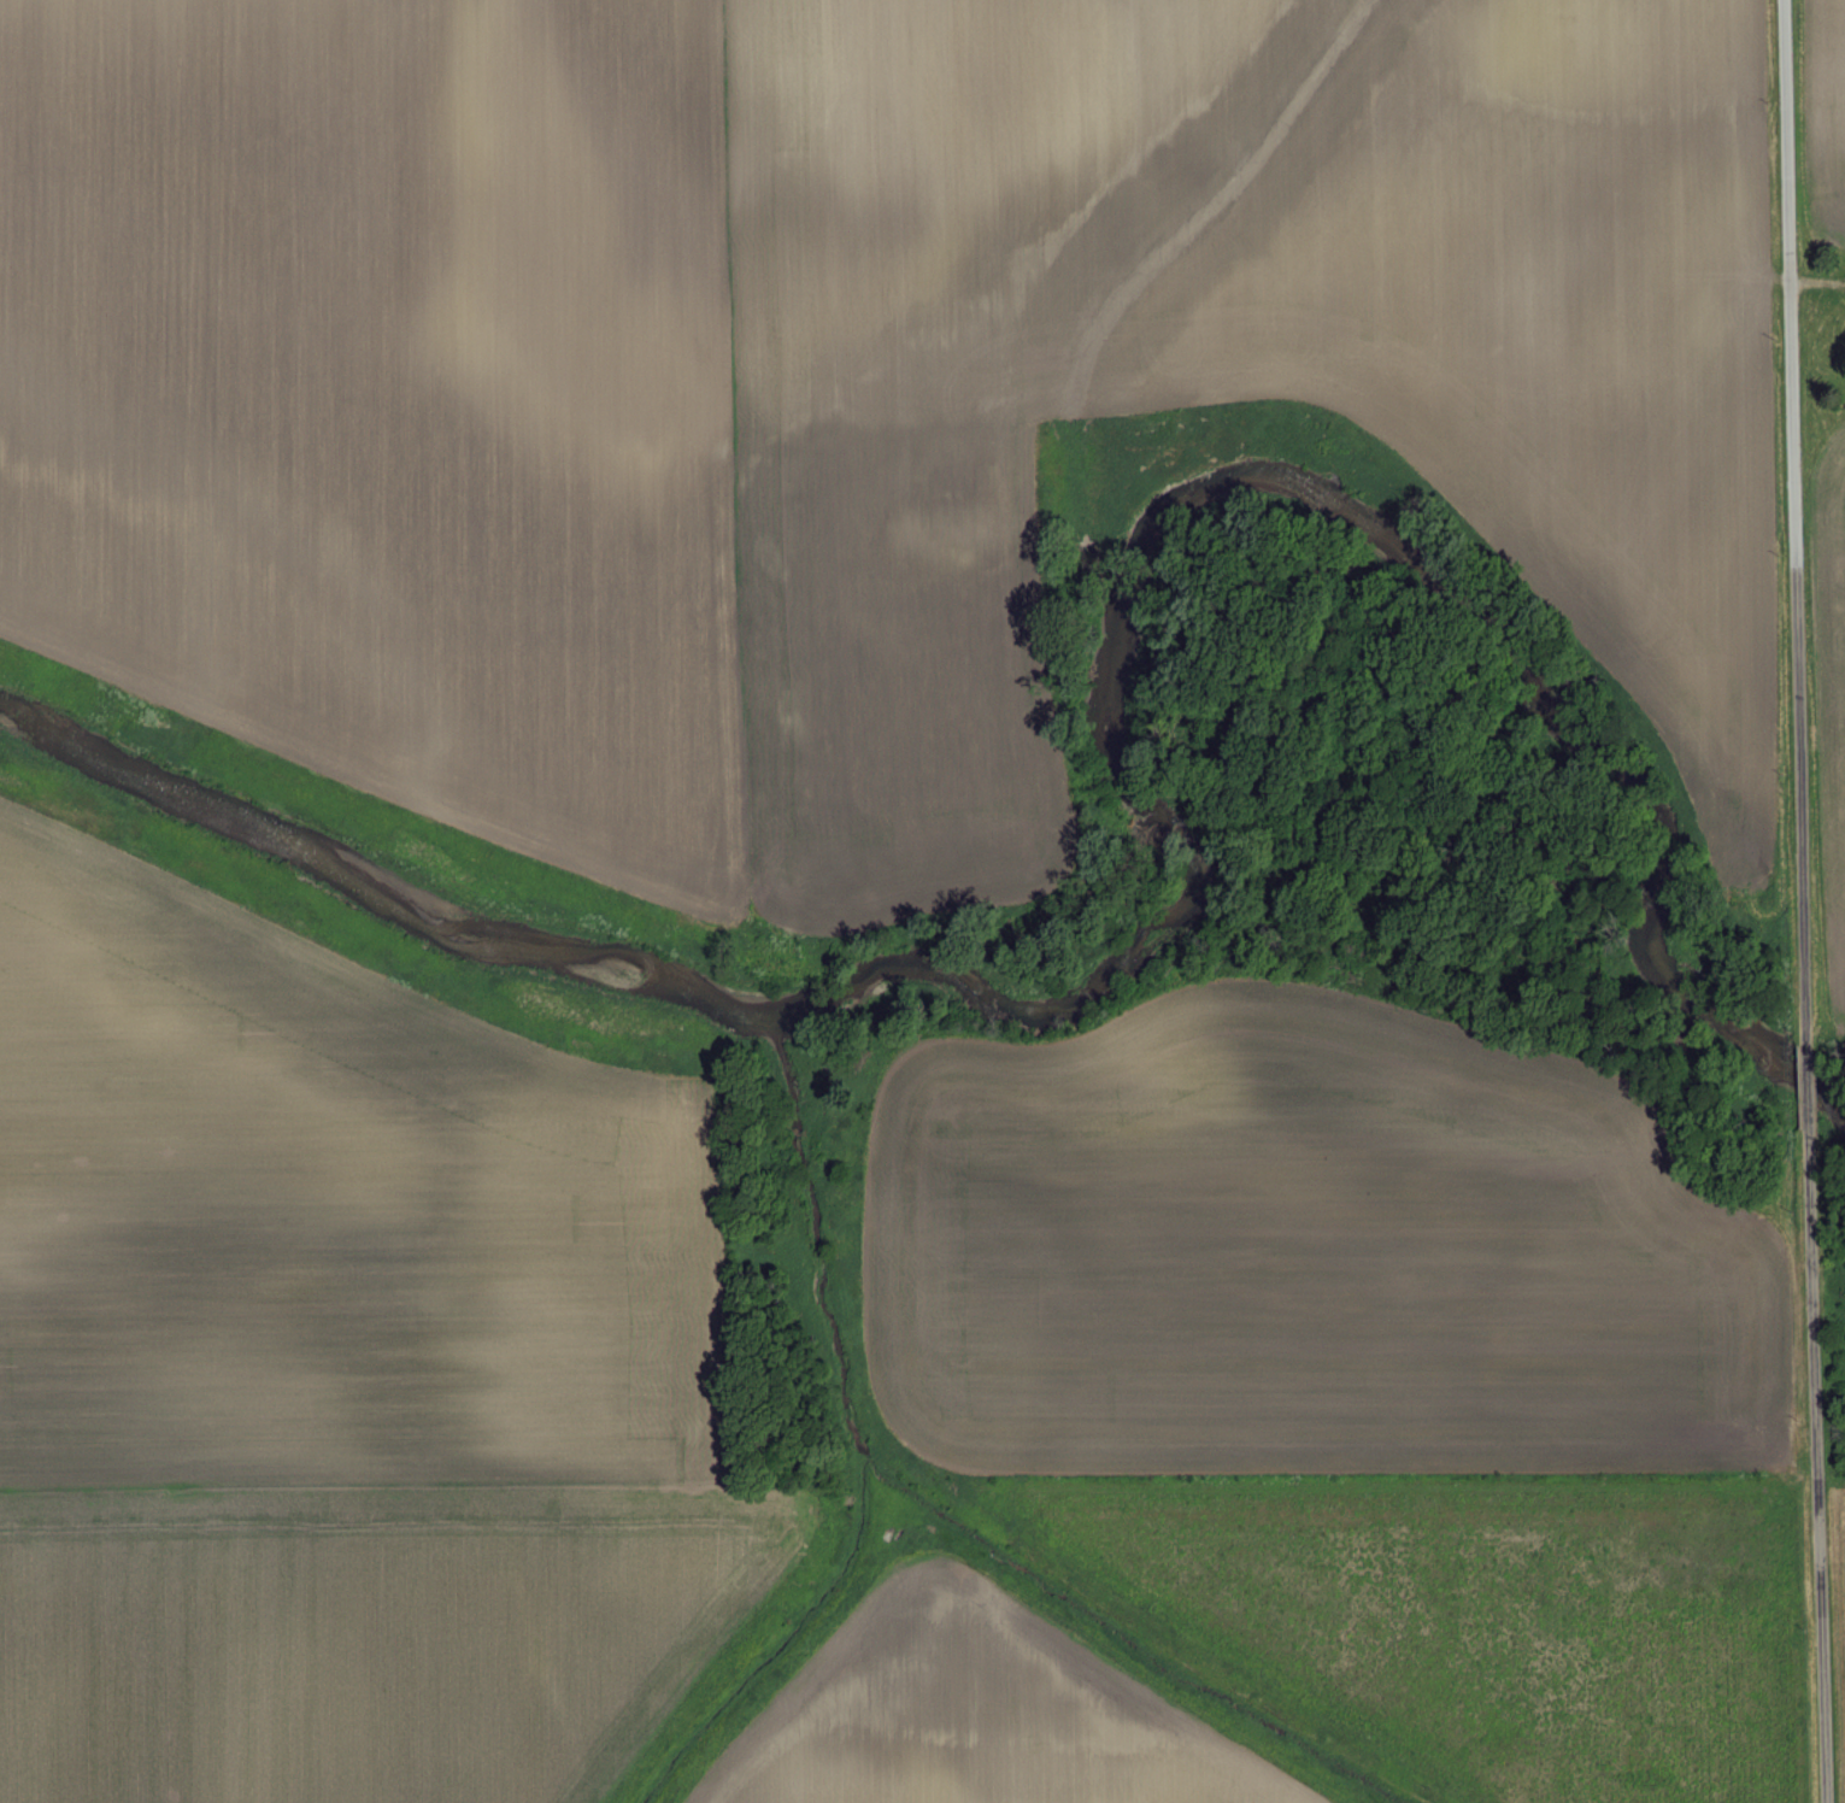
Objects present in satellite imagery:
crop: (1825, 117)
crop: (840, 383)
road: (1793, 522)
crop: (1832, 688)
road: (1805, 1082)
crop: (1306, 1251)
crop: (340, 1372)
road: (1816, 1461)
crop: (1840, 1607)
crop: (976, 1714)

